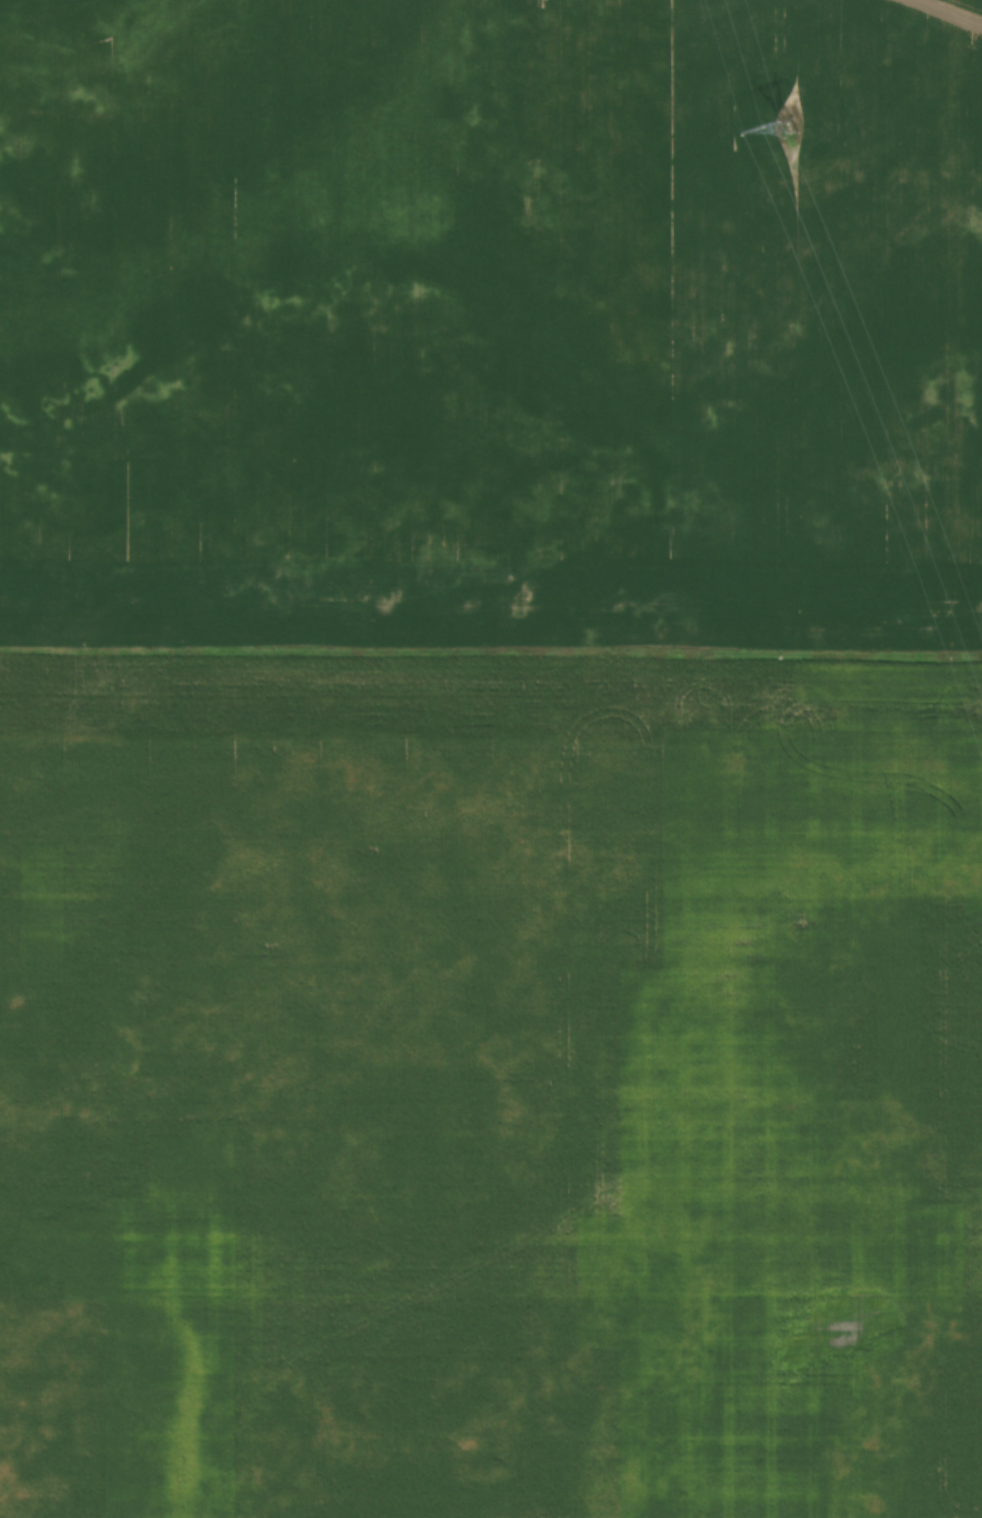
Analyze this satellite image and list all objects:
power tower: (790, 131)

